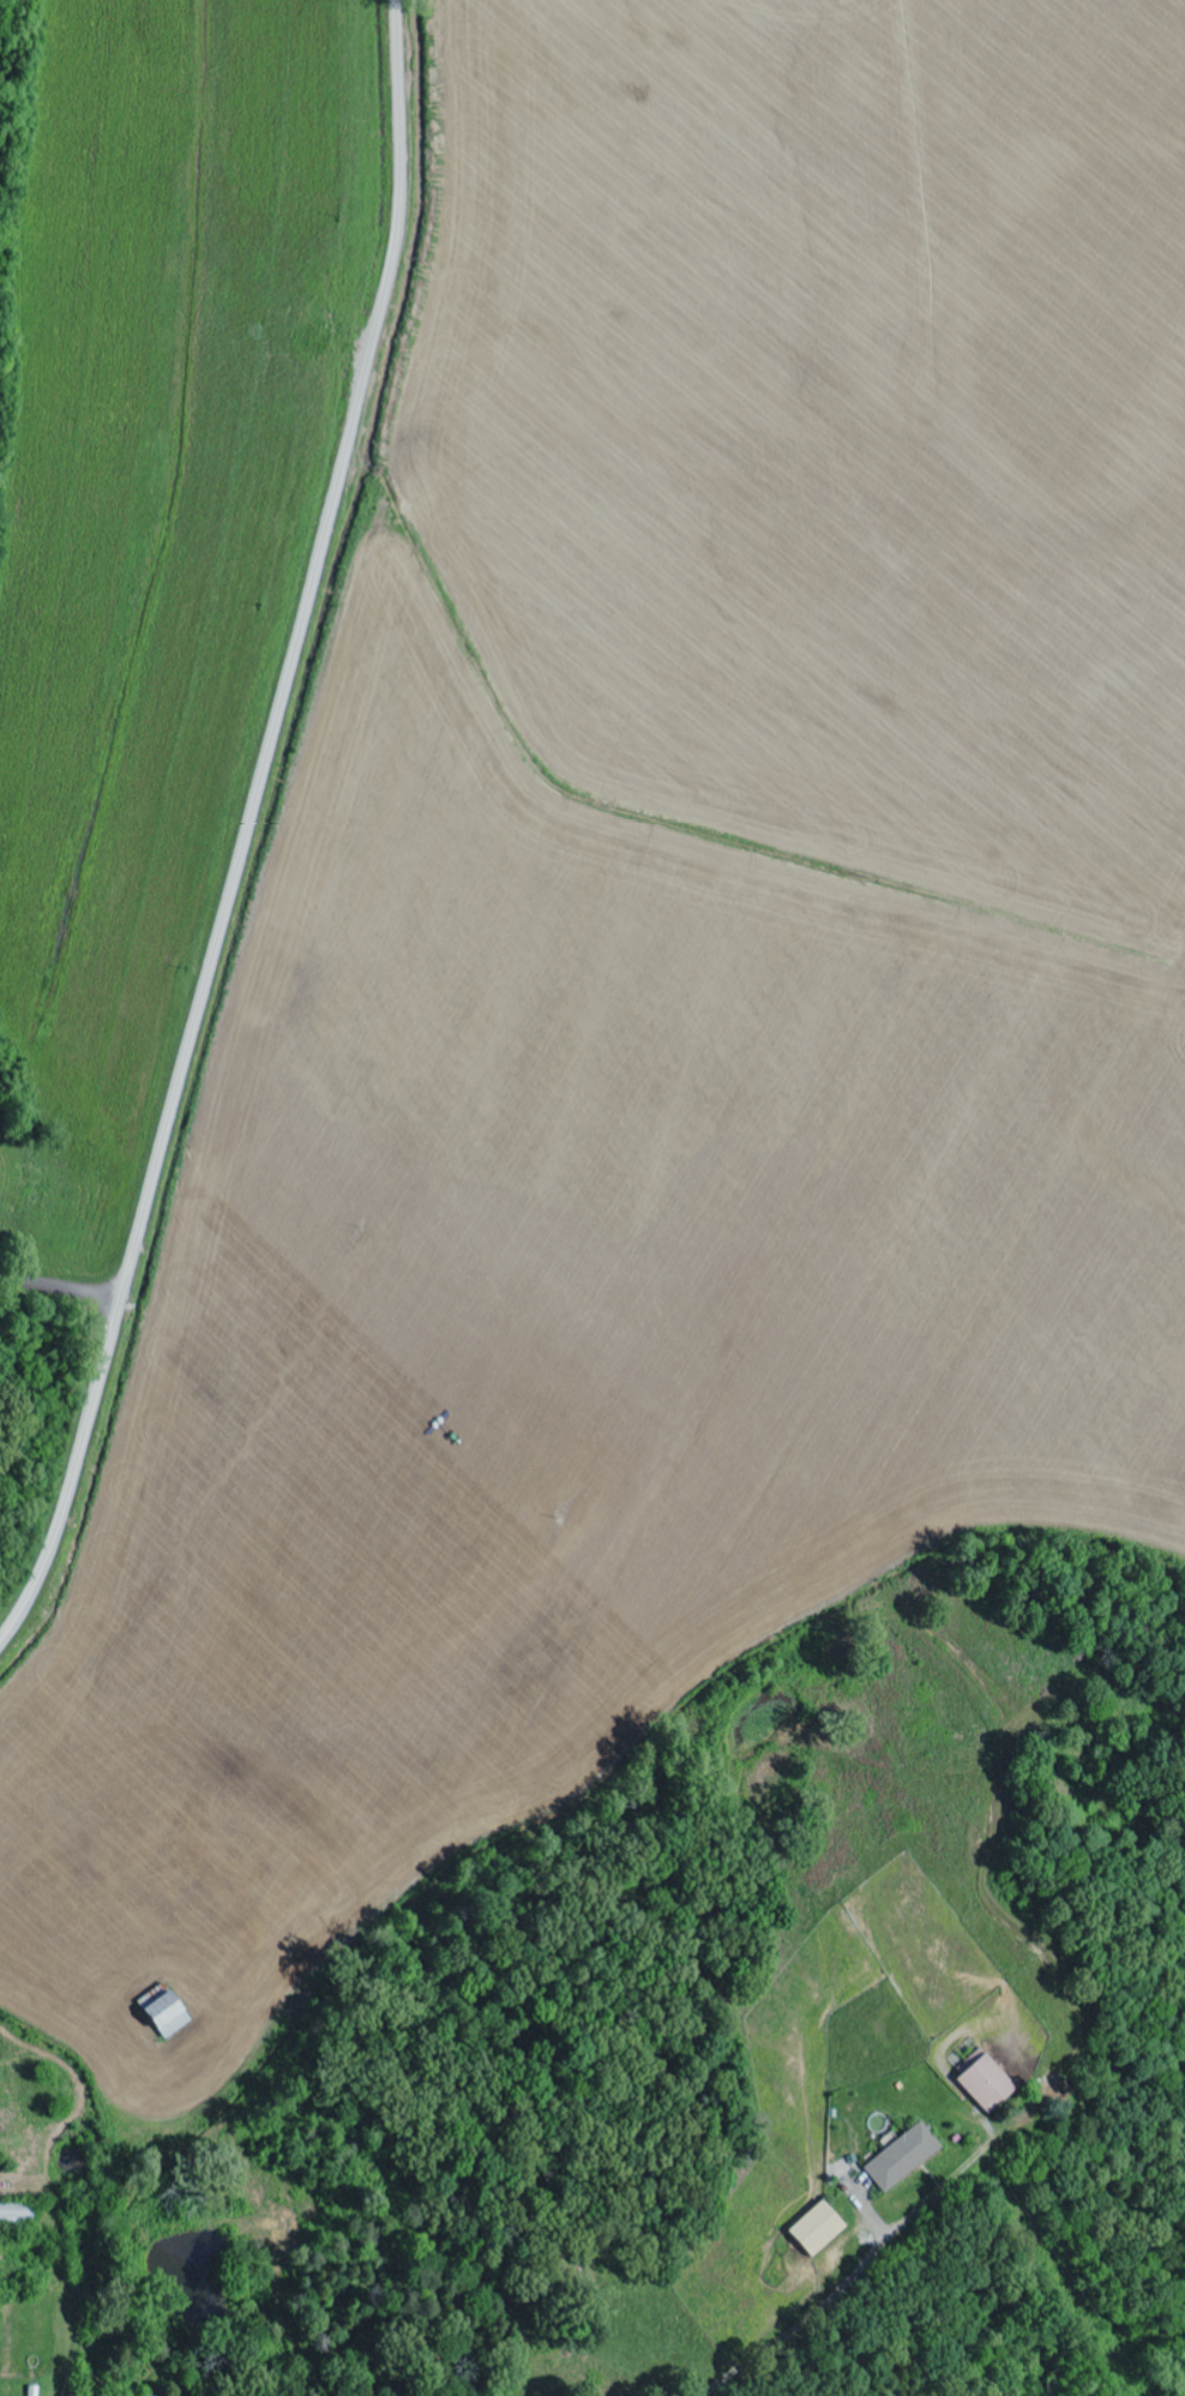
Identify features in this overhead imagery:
road: (247, 830)
road: (61, 1289)
building: (168, 2017)
building: (987, 2082)
building: (904, 2156)
building: (818, 2228)
road: (825, 2307)

